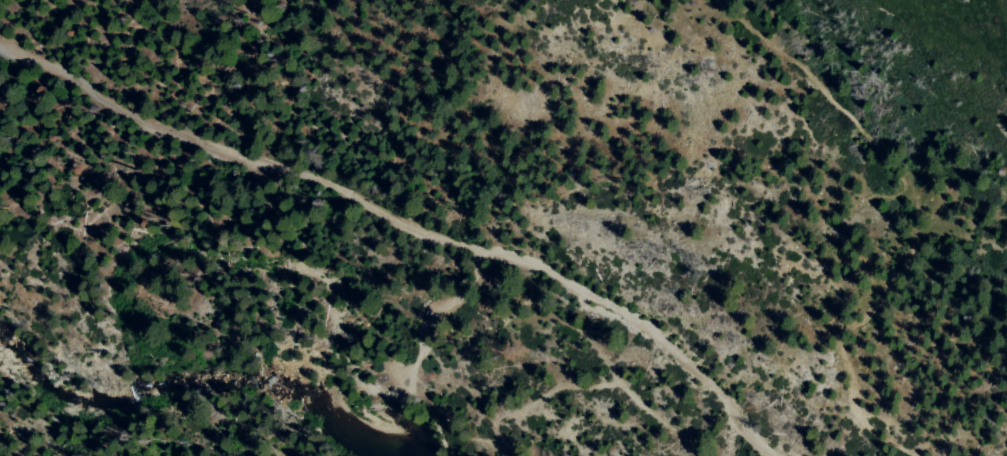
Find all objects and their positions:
road: (918, 218)
road: (410, 225)

